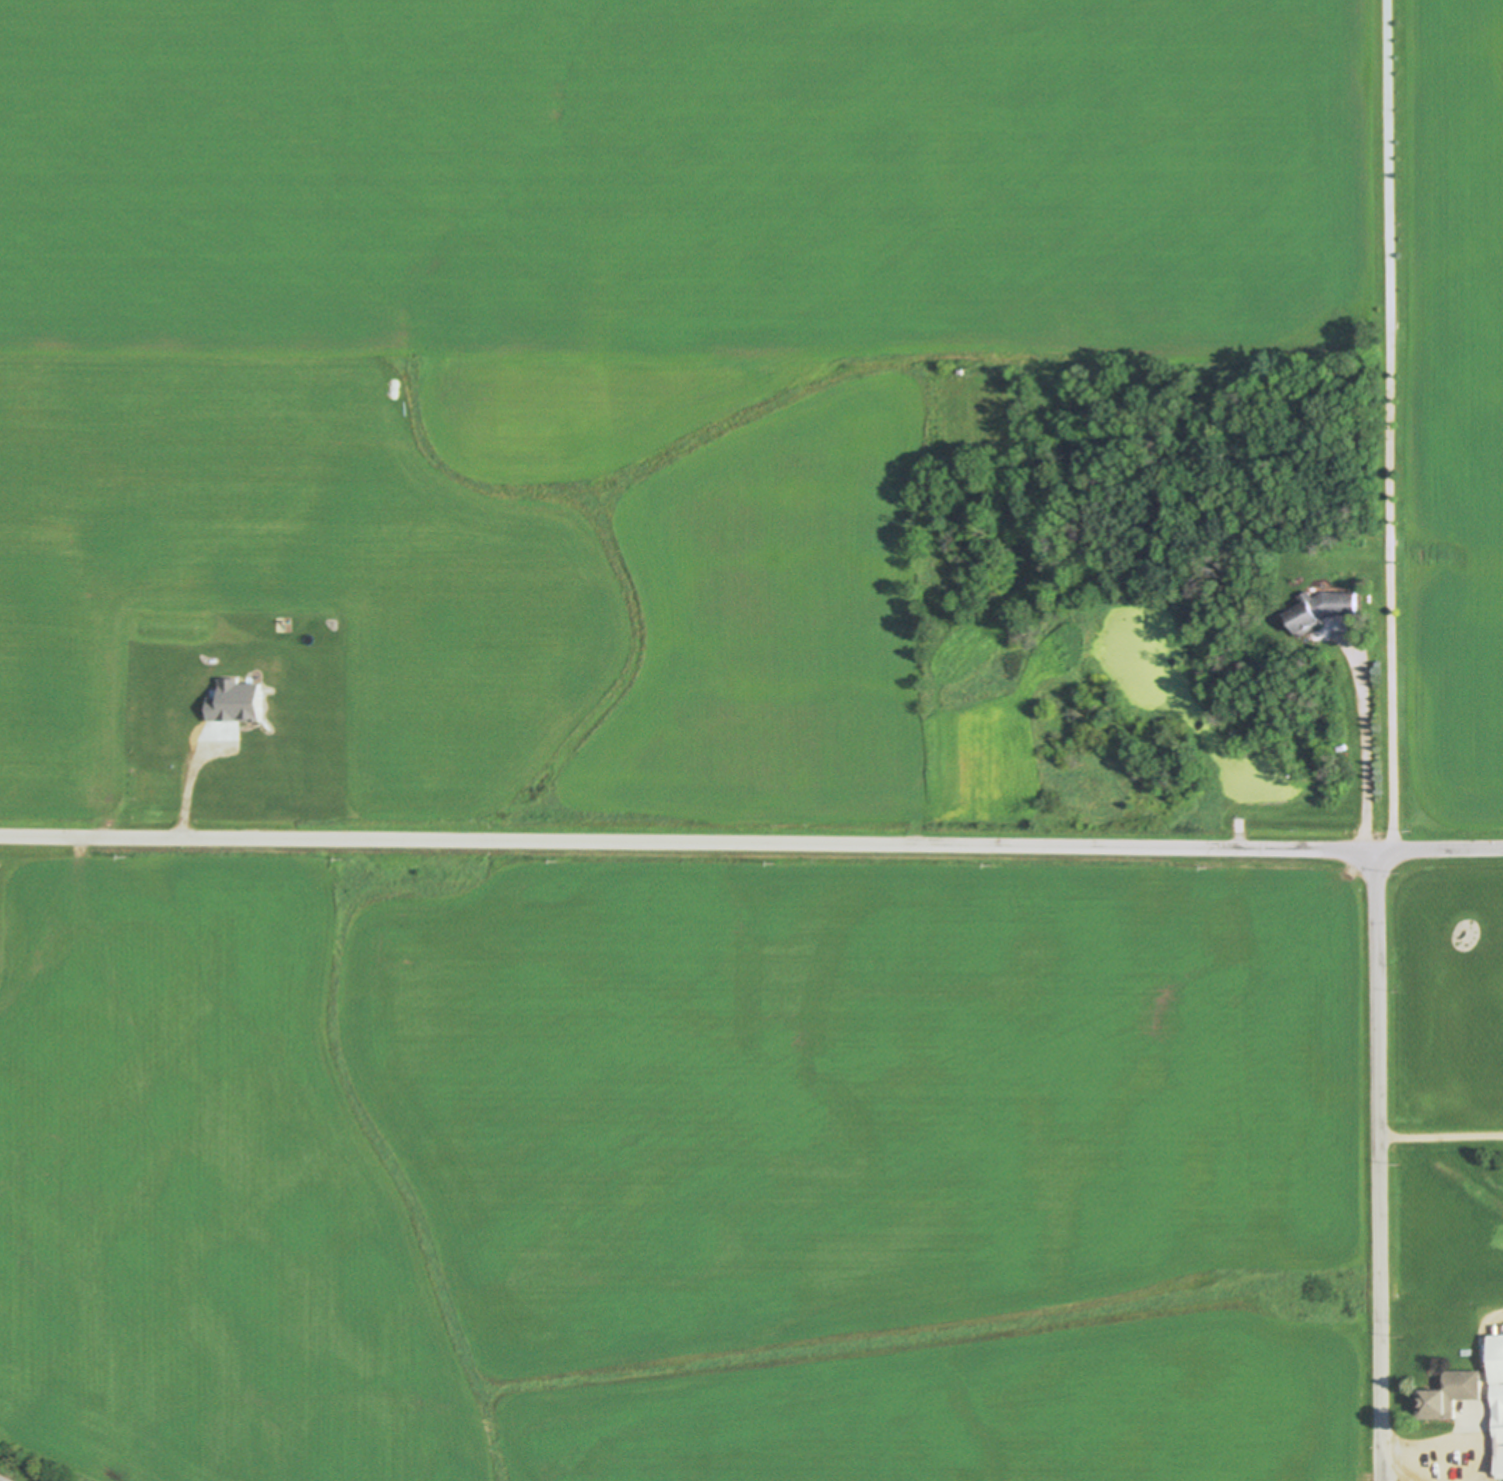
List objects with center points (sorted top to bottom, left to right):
road: (1394, 425)
building: (1330, 609)
building: (177, 688)
building: (204, 688)
building: (234, 703)
building: (161, 722)
road: (1371, 739)
building: (252, 762)
road: (189, 785)
road: (751, 845)
road: (1442, 1136)
road: (1381, 1166)
building: (1502, 1366)
building: (1457, 1395)
road: (1491, 1424)

